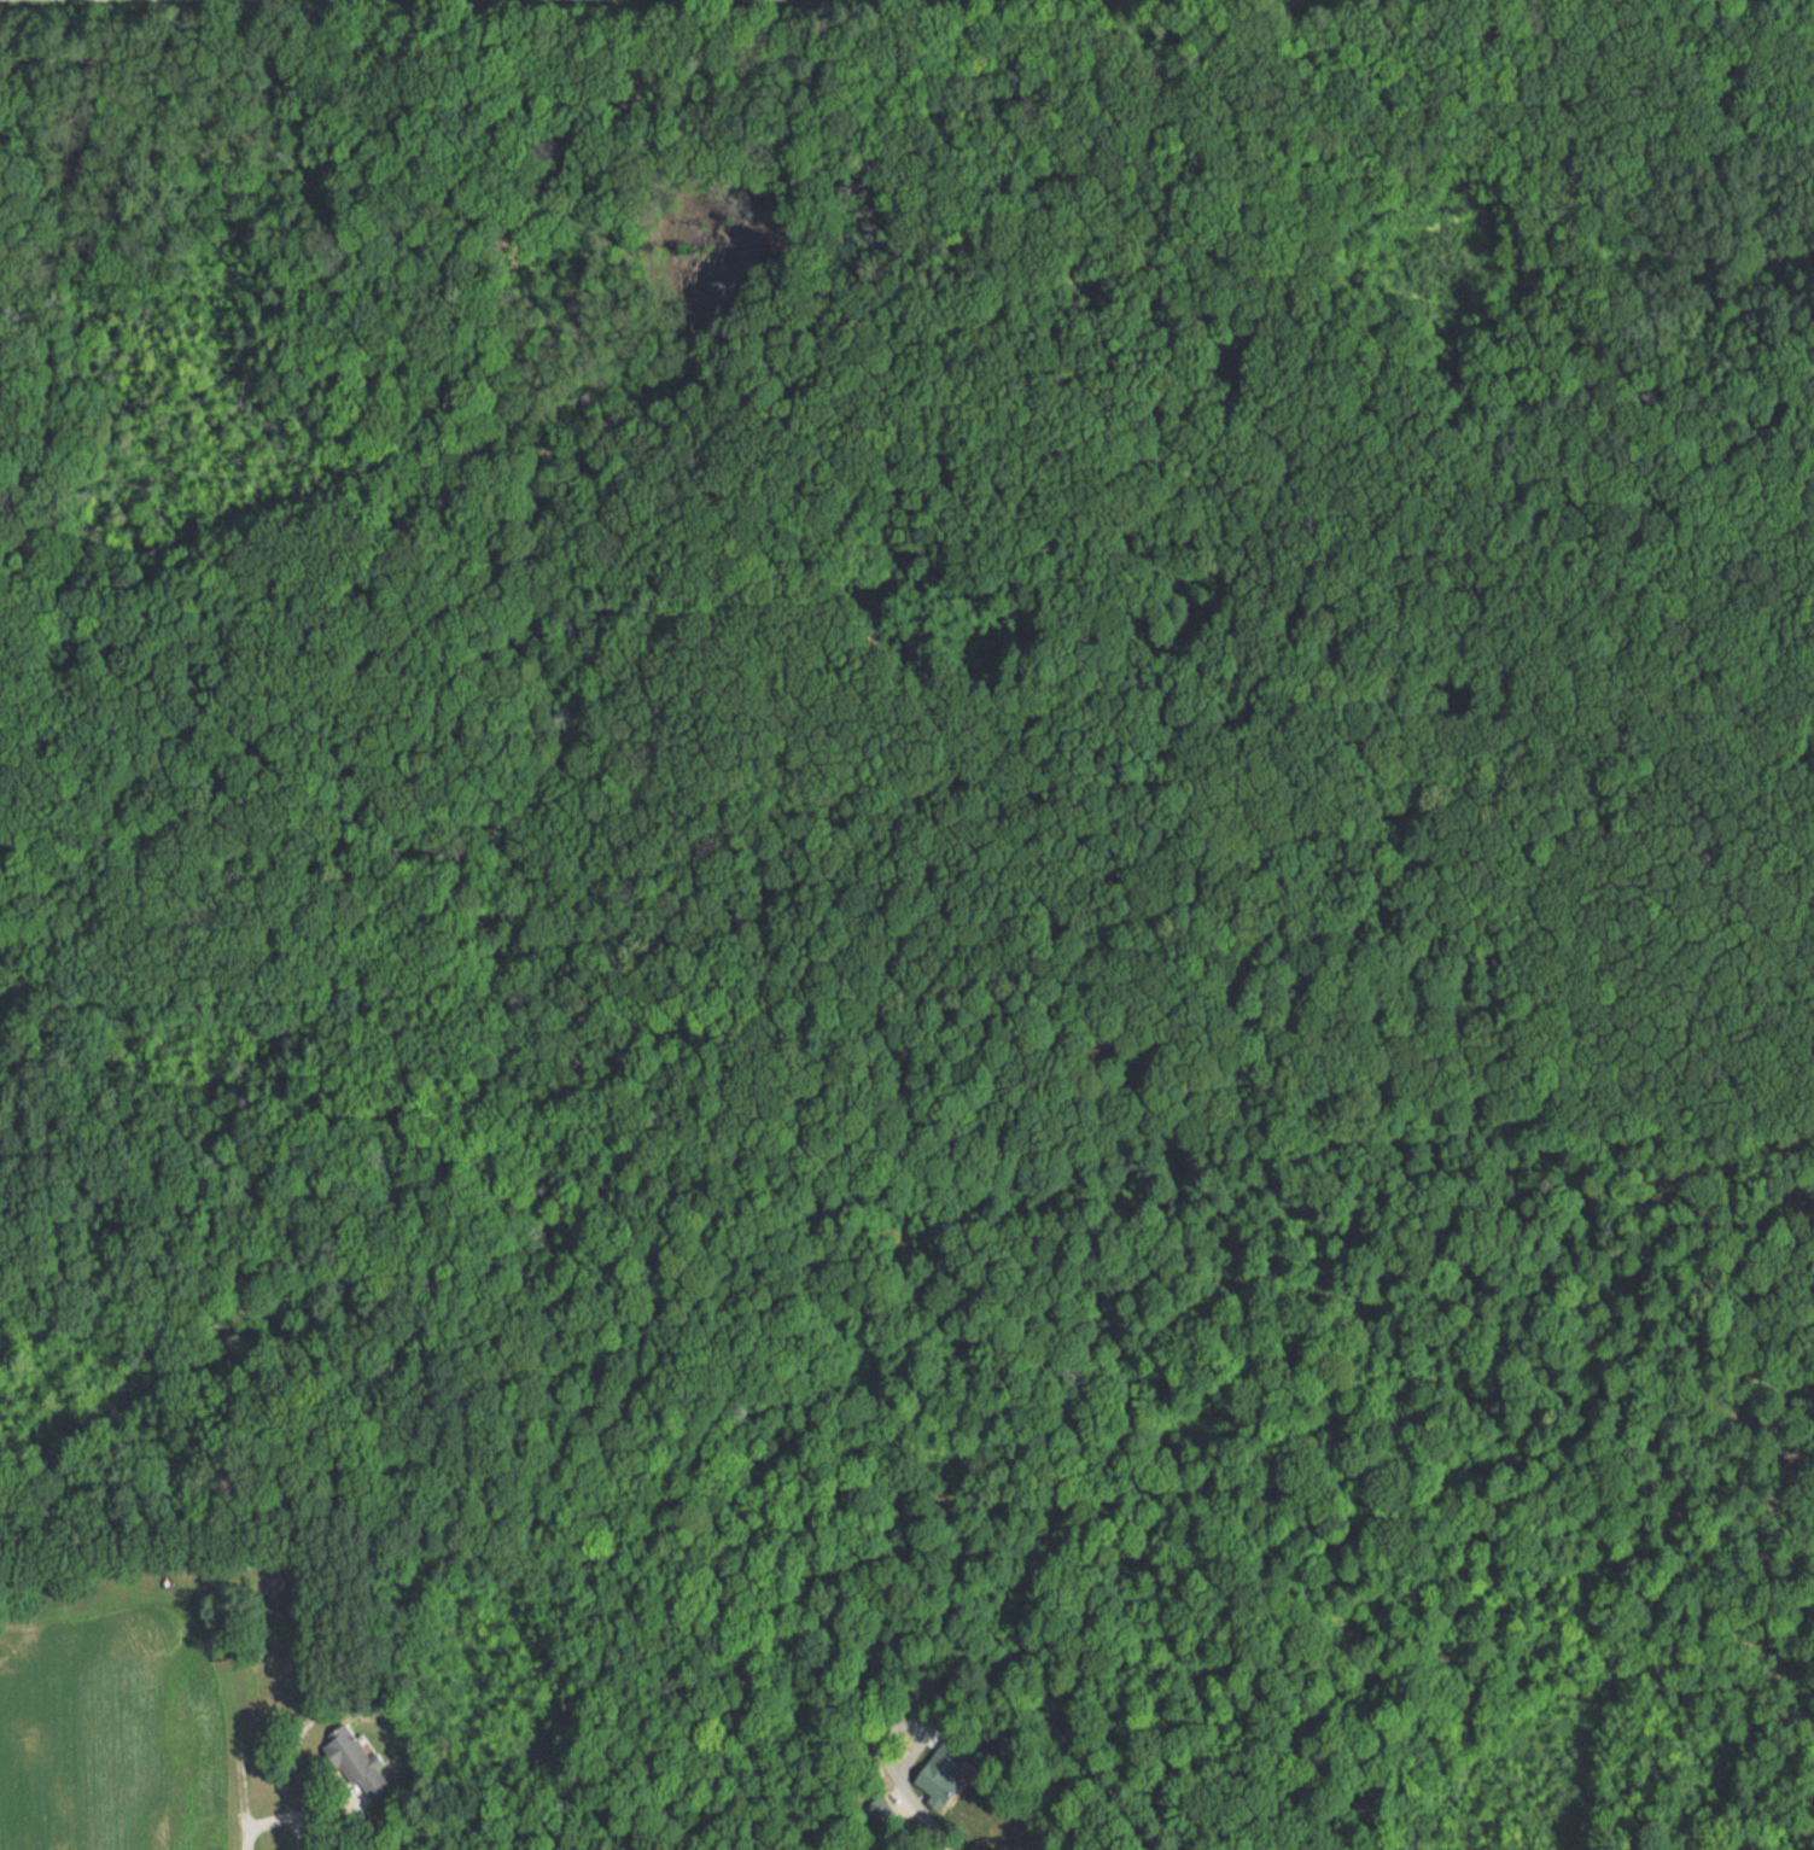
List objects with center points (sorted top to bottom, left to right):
road: (904, 1728)
building: (354, 1763)
road: (923, 1811)
road: (275, 1817)

